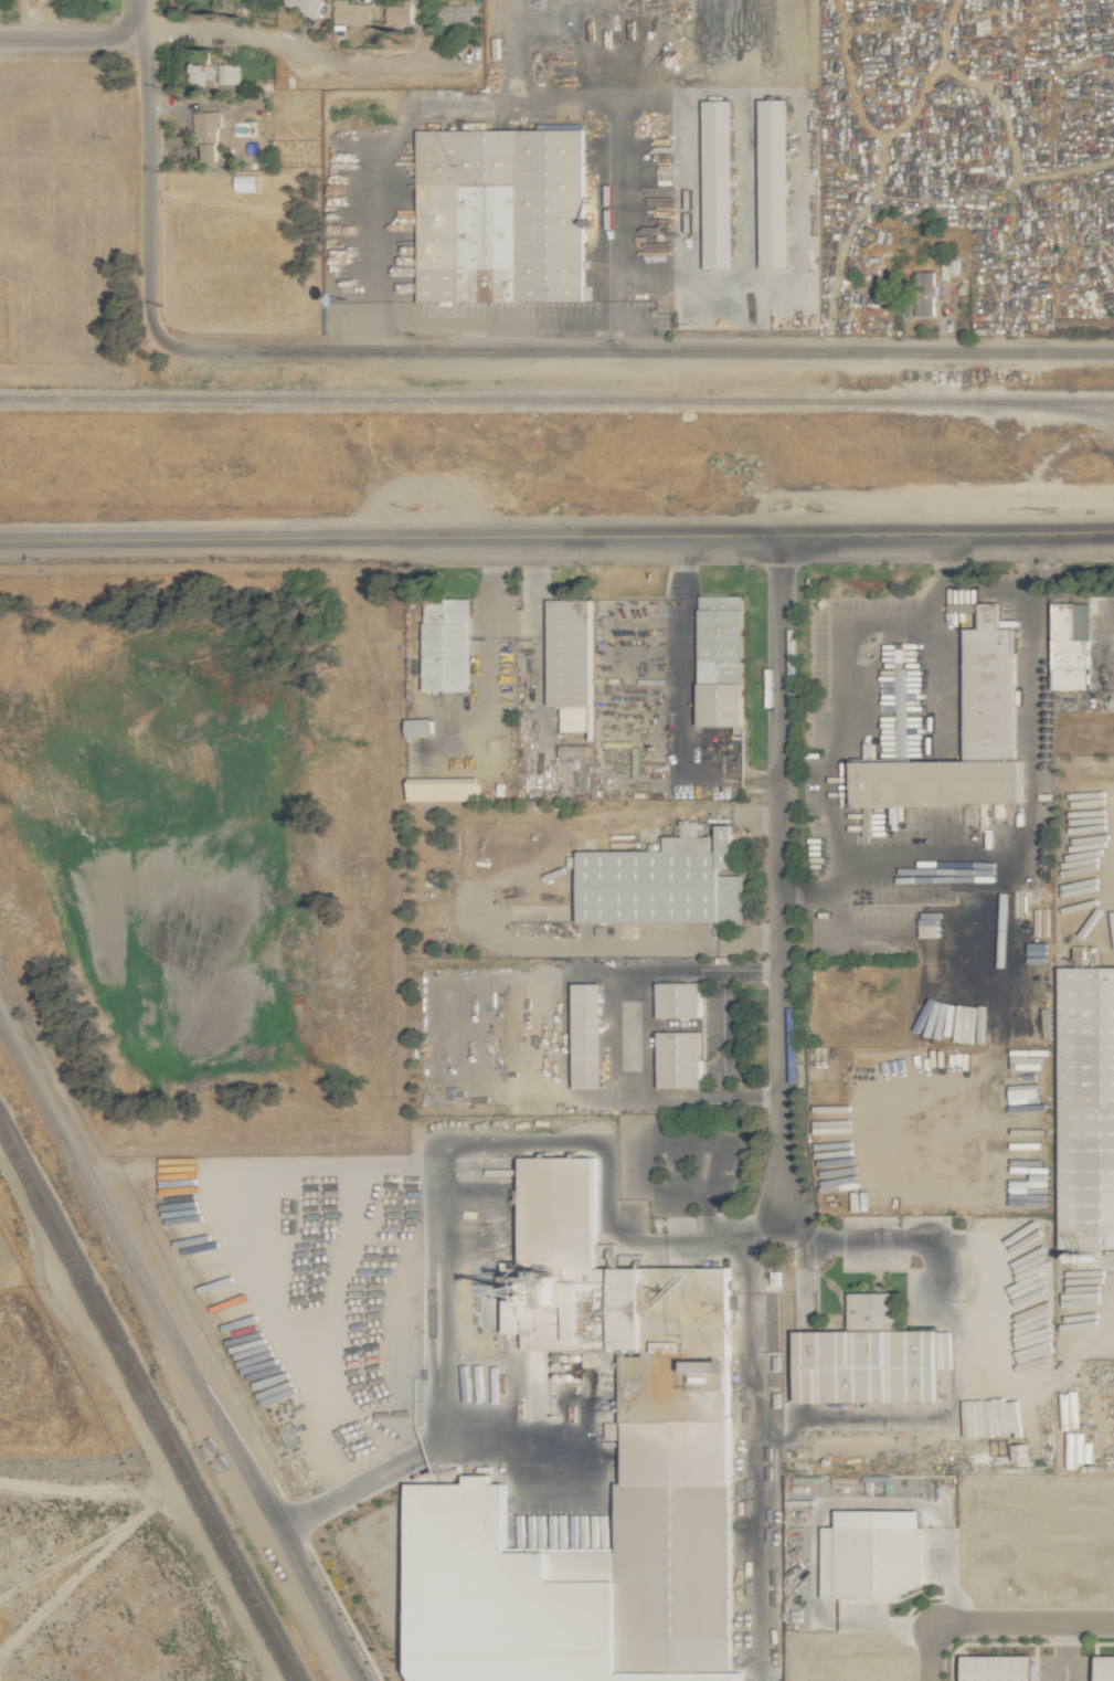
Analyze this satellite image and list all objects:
building: (304, 6)
building: (351, 12)
building: (399, 12)
building: (456, 14)
road: (139, 17)
road: (24, 19)
road: (71, 36)
road: (294, 52)
building: (200, 74)
building: (227, 74)
road: (503, 101)
building: (205, 134)
building: (244, 183)
building: (773, 183)
building: (718, 184)
road: (145, 189)
building: (499, 215)
building: (924, 293)
road: (496, 321)
road: (381, 337)
road: (469, 337)
road: (612, 337)
road: (634, 353)
railway: (556, 401)
railway: (1048, 408)
road: (556, 535)
road: (1028, 563)
road: (985, 590)
road: (935, 638)
building: (445, 644)
building: (1070, 645)
building: (569, 652)
building: (720, 660)
building: (989, 693)
building: (417, 727)
building: (442, 789)
road: (899, 850)
road: (779, 863)
building: (660, 881)
building: (929, 944)
building: (677, 998)
road: (553, 1034)
road: (722, 1034)
building: (586, 1035)
road: (617, 1035)
building: (679, 1059)
building: (1086, 1107)
road: (763, 1215)
road: (441, 1224)
road: (714, 1237)
road: (178, 1344)
building: (866, 1357)
railway: (147, 1403)
building: (618, 1448)
road: (746, 1459)
building: (871, 1554)
road: (1025, 1625)
road: (925, 1654)
road: (597, 1664)
building: (997, 1668)
building: (1104, 1668)

